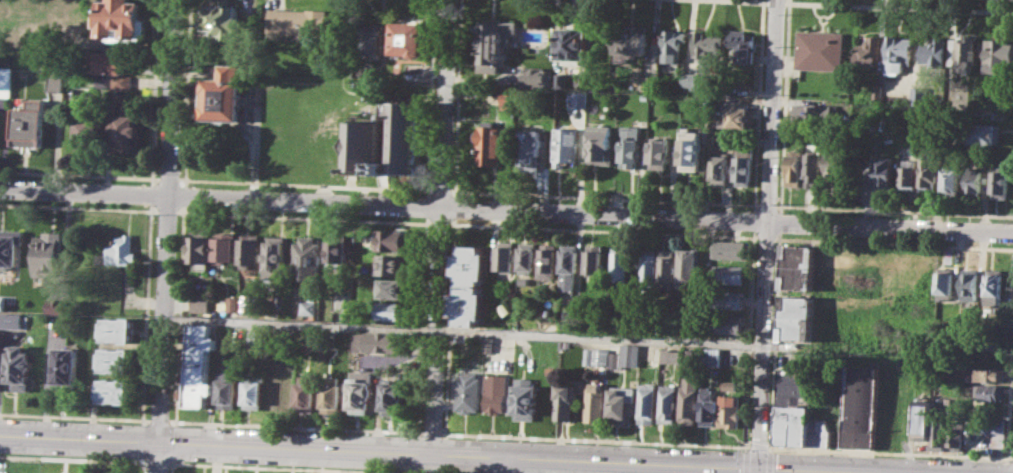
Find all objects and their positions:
road: (757, 0)
road: (874, 5)
road: (422, 9)
building: (121, 18)
building: (227, 20)
building: (298, 22)
building: (410, 38)
building: (373, 39)
building: (631, 42)
building: (496, 43)
building: (708, 44)
building: (744, 44)
building: (674, 45)
building: (577, 48)
building: (821, 49)
building: (871, 51)
building: (900, 52)
building: (935, 52)
building: (964, 52)
building: (1000, 55)
building: (109, 61)
building: (534, 77)
building: (561, 80)
building: (695, 80)
building: (6, 81)
building: (103, 81)
building: (122, 81)
building: (651, 82)
building: (53, 83)
building: (729, 90)
building: (880, 91)
road: (189, 93)
building: (223, 94)
building: (921, 94)
building: (506, 99)
building: (581, 99)
road: (759, 102)
road: (785, 102)
building: (0, 108)
building: (807, 111)
building: (741, 117)
building: (29, 124)
building: (85, 130)
building: (126, 133)
building: (986, 133)
building: (363, 141)
building: (490, 143)
road: (256, 144)
building: (566, 145)
building: (631, 145)
building: (600, 146)
building: (532, 148)
building: (691, 149)
building: (660, 153)
building: (744, 165)
building: (795, 166)
building: (836, 167)
building: (720, 169)
building: (815, 169)
building: (929, 169)
building: (885, 170)
building: (908, 171)
building: (953, 180)
building: (974, 181)
building: (1002, 185)
road: (506, 193)
road: (185, 196)
road: (506, 209)
road: (167, 220)
road: (439, 226)
road: (506, 226)
road: (150, 230)
road: (768, 233)
building: (394, 240)
building: (10, 246)
building: (201, 246)
building: (225, 246)
building: (250, 249)
building: (731, 249)
building: (120, 251)
building: (49, 253)
building: (336, 253)
building: (275, 255)
building: (307, 257)
building: (506, 257)
building: (528, 257)
building: (570, 258)
building: (596, 258)
building: (549, 260)
building: (621, 263)
building: (650, 263)
building: (392, 264)
building: (470, 265)
building: (799, 267)
building: (668, 268)
building: (690, 268)
building: (729, 273)
building: (948, 280)
building: (568, 282)
building: (972, 284)
building: (995, 287)
building: (392, 288)
building: (729, 299)
building: (2, 301)
building: (201, 302)
building: (246, 302)
building: (232, 303)
building: (57, 305)
building: (470, 305)
building: (307, 306)
building: (393, 310)
road: (181, 315)
building: (798, 317)
building: (11, 321)
building: (727, 323)
building: (119, 329)
road: (486, 332)
building: (316, 338)
building: (994, 338)
building: (377, 341)
building: (489, 344)
building: (199, 345)
building: (597, 356)
building: (626, 356)
building: (672, 356)
building: (691, 356)
building: (713, 356)
building: (117, 360)
building: (67, 365)
building: (20, 367)
building: (984, 374)
building: (794, 375)
building: (197, 385)
building: (731, 385)
building: (797, 387)
building: (227, 389)
building: (115, 390)
building: (253, 390)
building: (361, 391)
building: (989, 391)
building: (306, 392)
building: (468, 392)
building: (332, 394)
building: (497, 394)
building: (393, 396)
building: (526, 398)
building: (565, 400)
building: (690, 400)
building: (794, 400)
building: (596, 402)
building: (622, 403)
building: (648, 403)
building: (669, 403)
building: (860, 406)
building: (710, 407)
building: (731, 410)
road: (79, 416)
building: (923, 418)
building: (793, 425)
building: (940, 429)
building: (988, 429)
building: (819, 432)
building: (957, 433)
road: (174, 442)
building: (945, 442)
road: (447, 453)
road: (157, 456)
road: (72, 458)
road: (158, 462)
road: (498, 464)
parking lot: (2, 466)
road: (173, 466)
road: (145, 467)
road: (283, 467)
traffic signals: (759, 467)
road: (758, 470)
building: (99, 472)
building: (113, 472)

